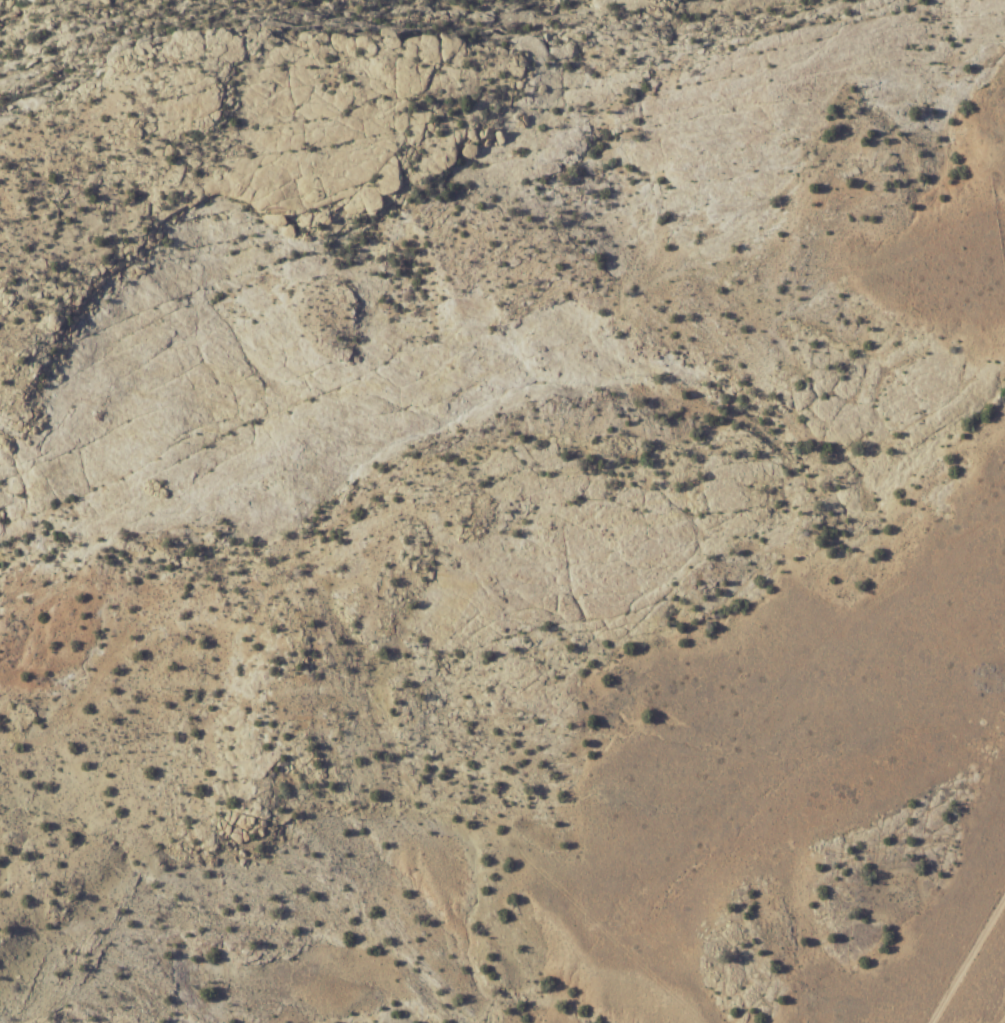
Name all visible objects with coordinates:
road: (967, 956)

